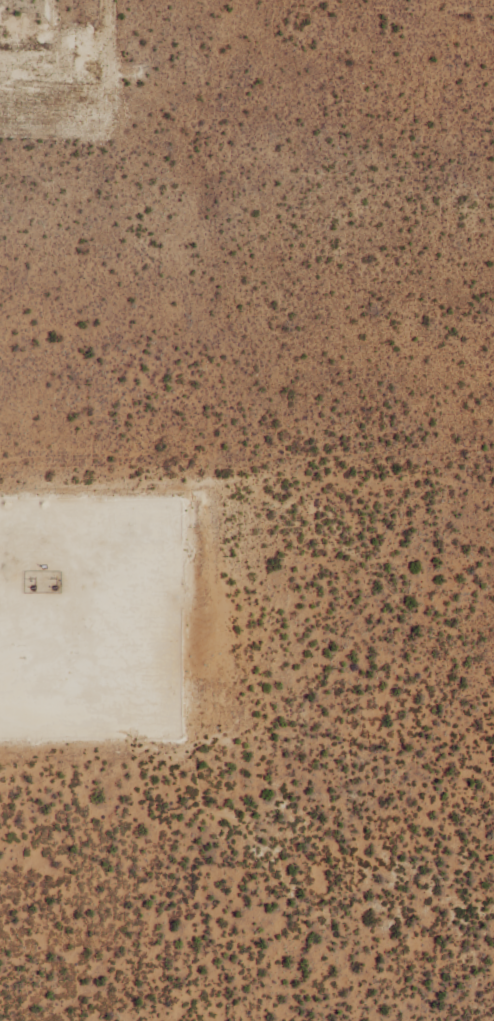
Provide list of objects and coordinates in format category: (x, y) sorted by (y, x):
petroleum well: (32, 587)
petroleum well: (53, 587)

